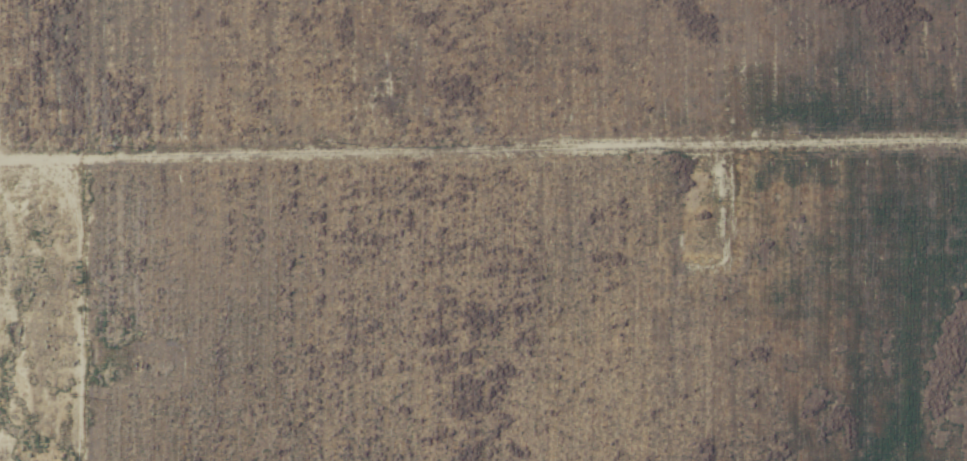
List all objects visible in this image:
road: (13, 117)
road: (65, 228)

